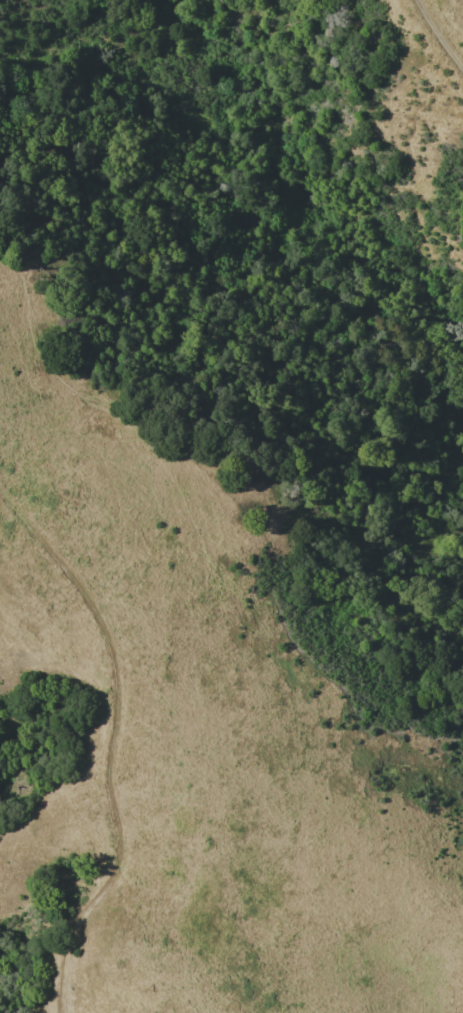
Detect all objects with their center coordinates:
road: (441, 29)
road: (111, 744)

